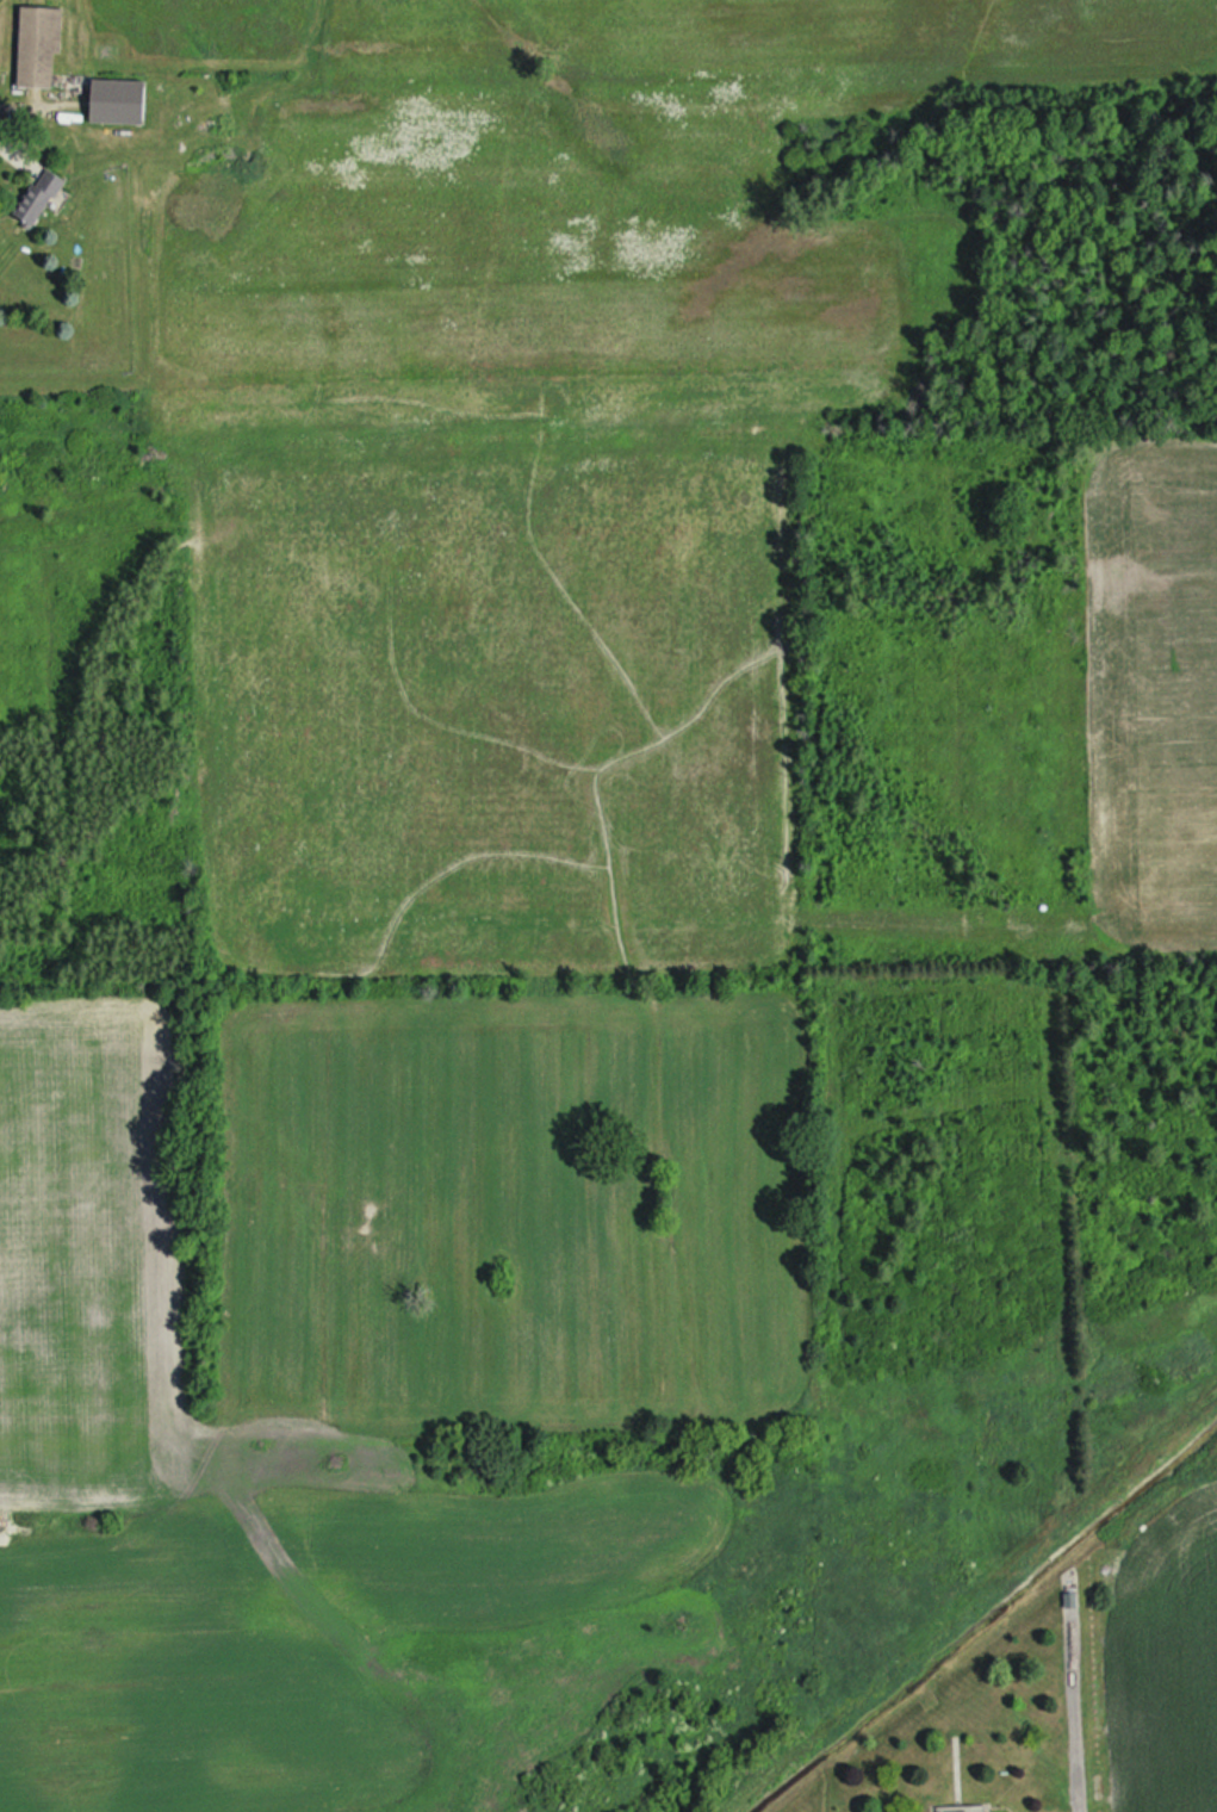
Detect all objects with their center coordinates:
building: (39, 48)
building: (120, 104)
road: (19, 130)
building: (39, 200)

